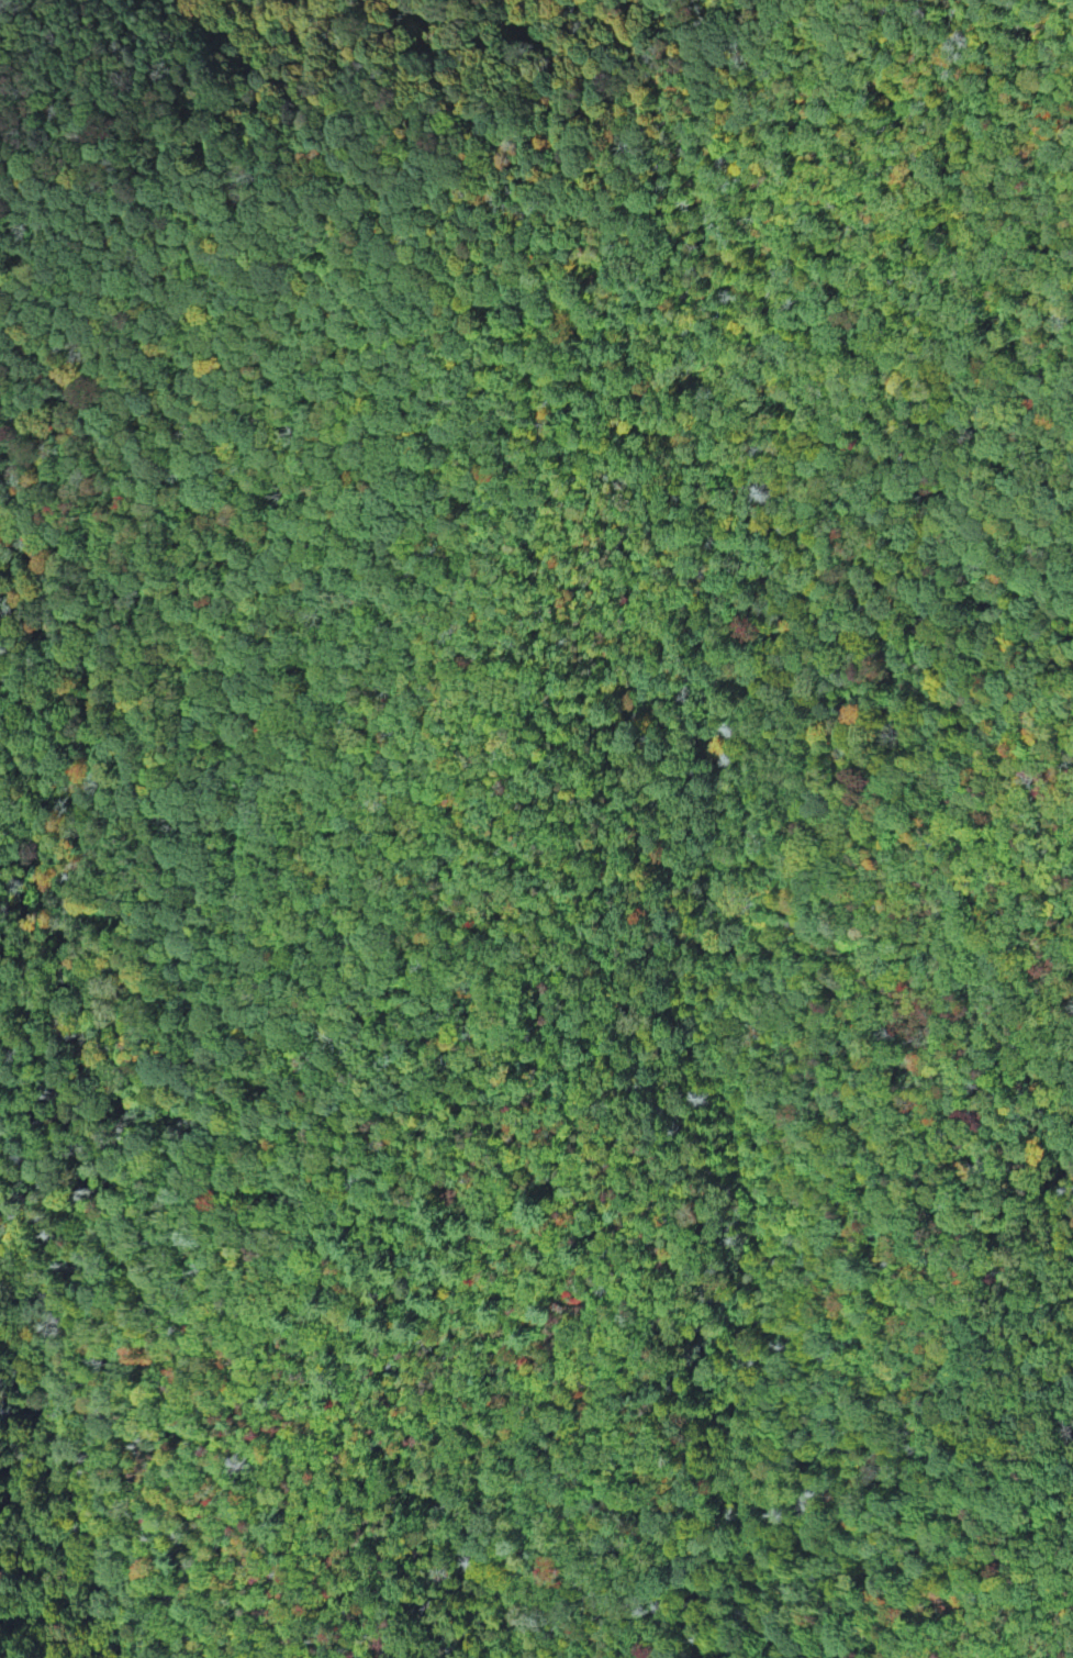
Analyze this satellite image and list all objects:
road: (592, 283)

